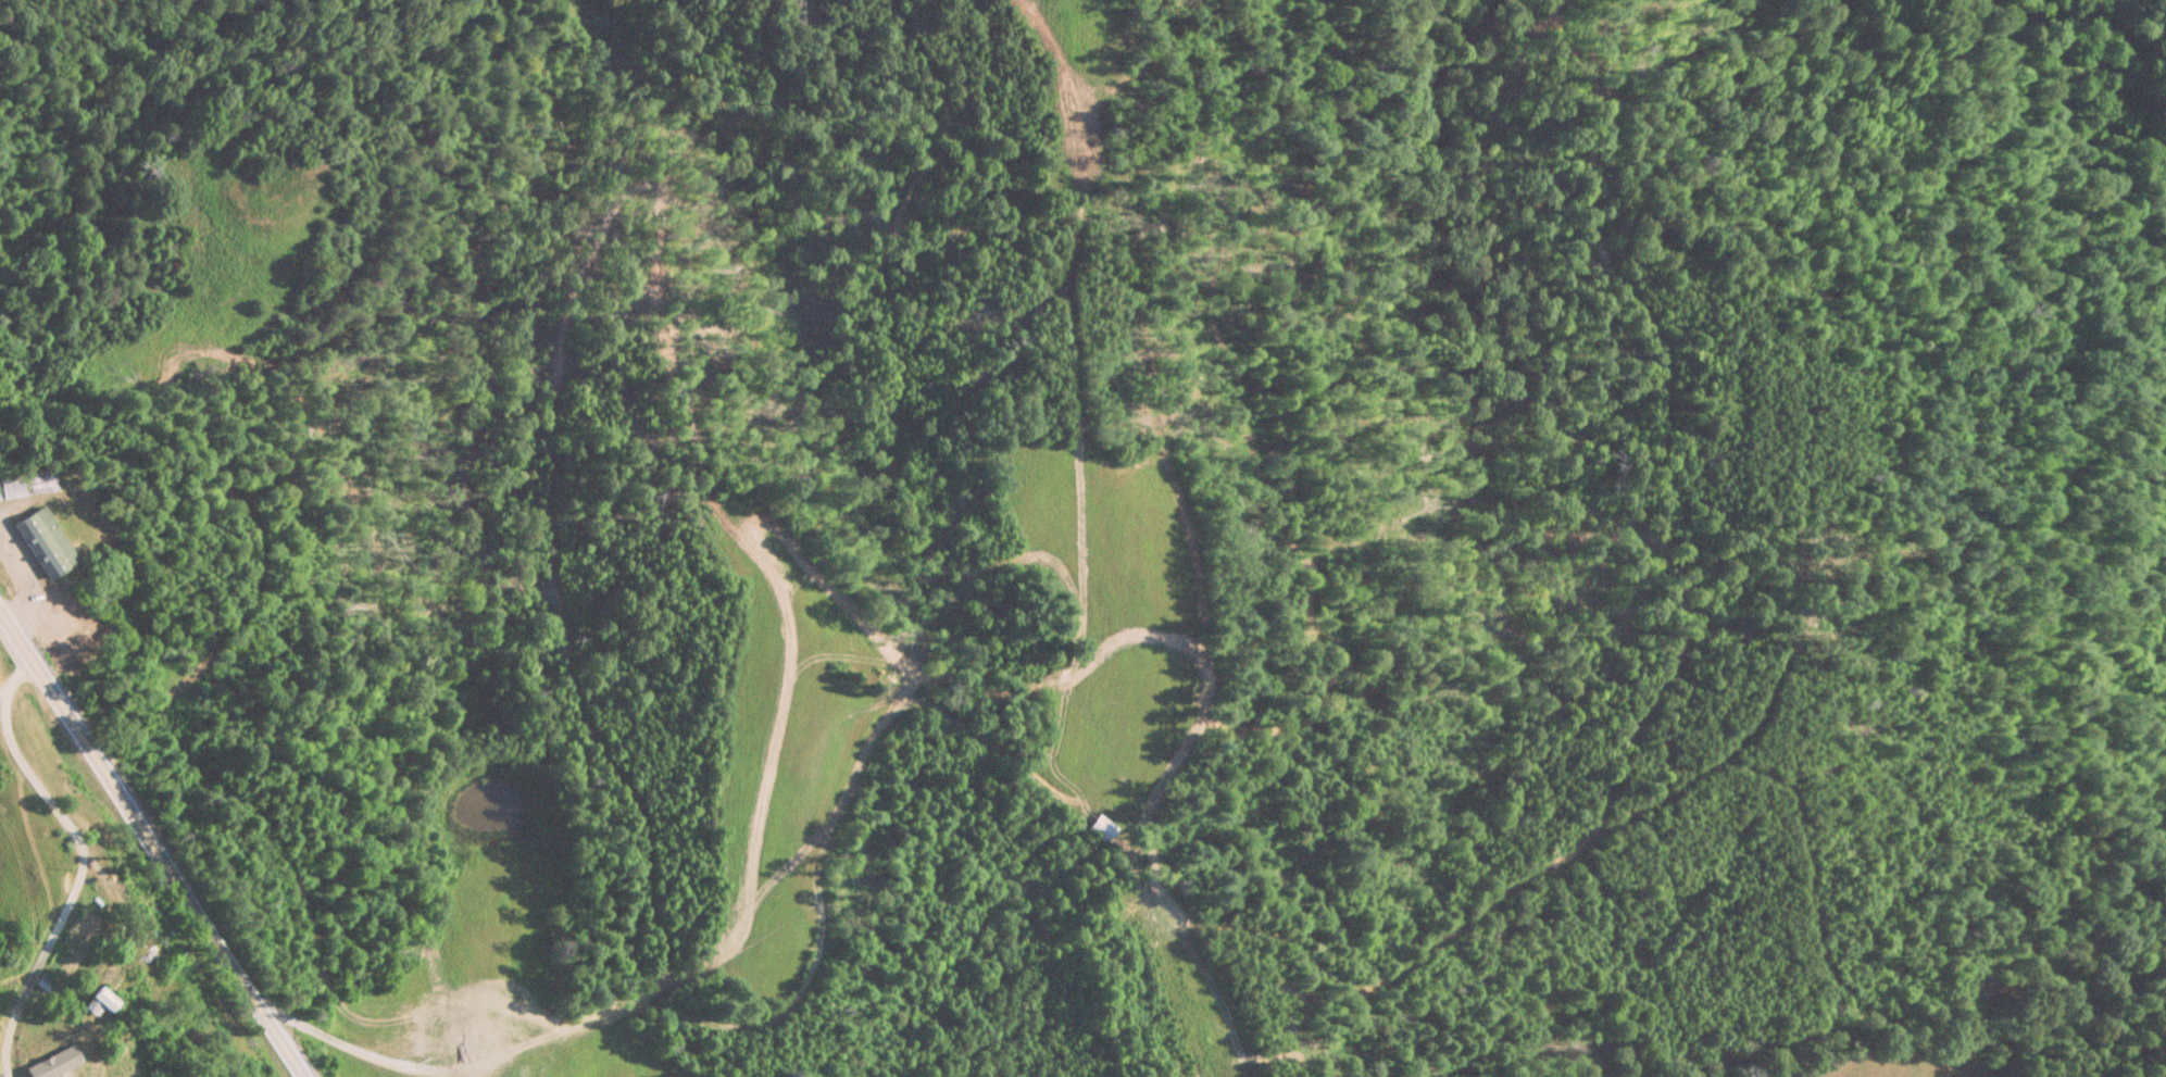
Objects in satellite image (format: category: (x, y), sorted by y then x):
building: (28, 484)
building: (49, 542)
road: (151, 844)
building: (103, 1002)

